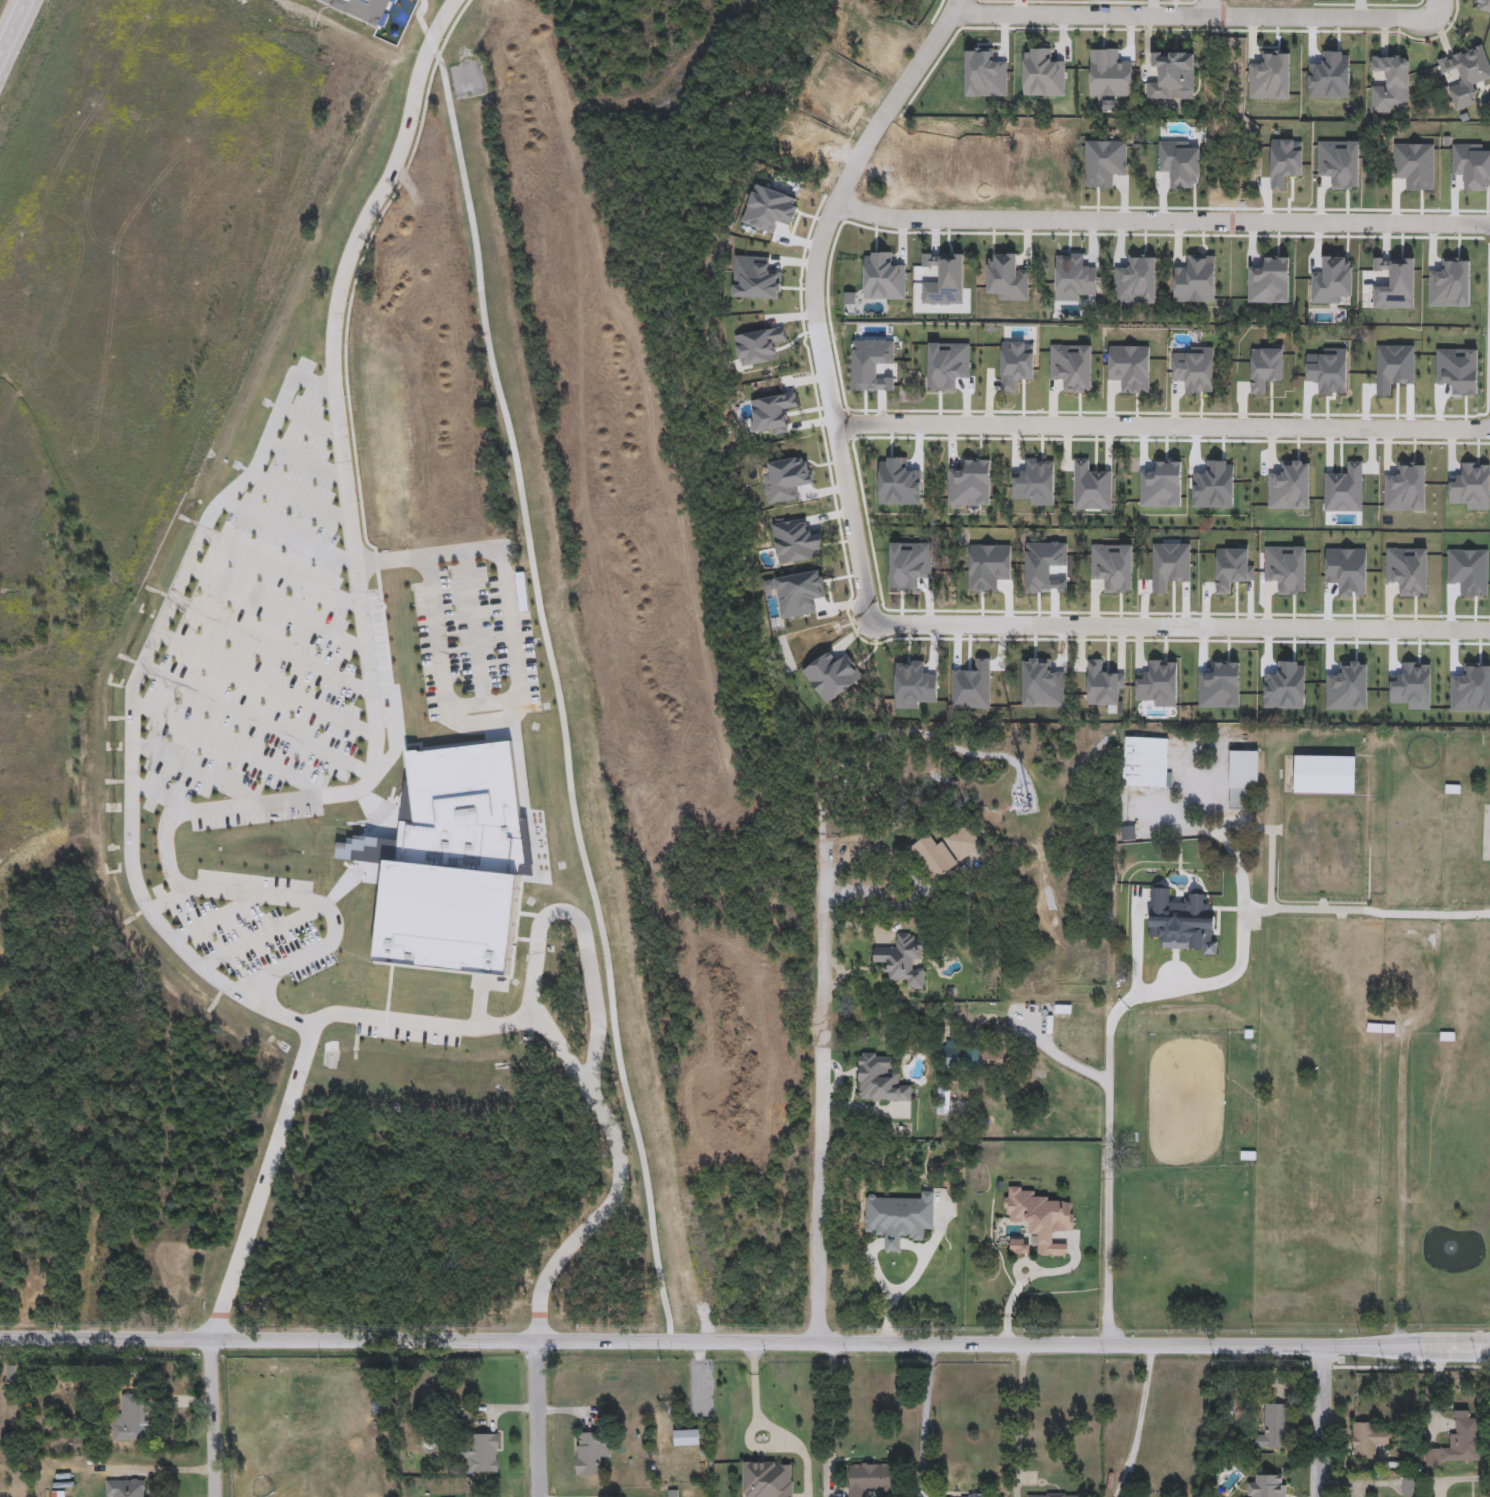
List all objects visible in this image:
road: (956, 8)
road: (1209, 8)
road: (1081, 16)
road: (1329, 18)
road: (13, 29)
building: (1465, 74)
building: (1173, 76)
building: (1390, 83)
road: (1163, 220)
road: (815, 305)
road: (1162, 427)
road: (266, 442)
road: (308, 457)
road: (301, 496)
road: (290, 532)
road: (358, 561)
road: (276, 608)
road: (1185, 625)
road: (472, 628)
road: (271, 646)
road: (517, 681)
road: (265, 684)
road: (483, 703)
road: (255, 721)
road: (227, 749)
building: (1146, 762)
road: (191, 772)
building: (1324, 774)
building: (1243, 779)
road: (160, 798)
building: (456, 814)
building: (1128, 833)
road: (1234, 834)
building: (964, 843)
building: (933, 856)
road: (917, 883)
road: (140, 893)
building: (1162, 894)
road: (323, 906)
road: (1372, 906)
building: (450, 921)
road: (268, 930)
road: (591, 930)
road: (1238, 951)
road: (1124, 958)
building: (903, 959)
road: (238, 966)
building: (1380, 1028)
road: (1073, 1056)
building: (960, 1057)
road: (586, 1072)
building: (881, 1079)
road: (821, 1090)
road: (1116, 1191)
building: (1039, 1215)
building: (899, 1218)
building: (1019, 1247)
road: (744, 1342)
road: (743, 1389)
road: (832, 1405)
road: (212, 1417)
building: (132, 1418)
road: (537, 1420)
road: (925, 1420)
road: (1020, 1420)
road: (1140, 1421)
road: (1322, 1421)
building: (1275, 1426)
building: (1366, 1439)
building: (1459, 1444)
building: (480, 1451)
building: (590, 1451)
building: (767, 1478)
building: (869, 1478)
building: (1267, 1485)
building: (1409, 1486)
building: (125, 1488)
building: (1051, 1494)
building: (974, 1495)

